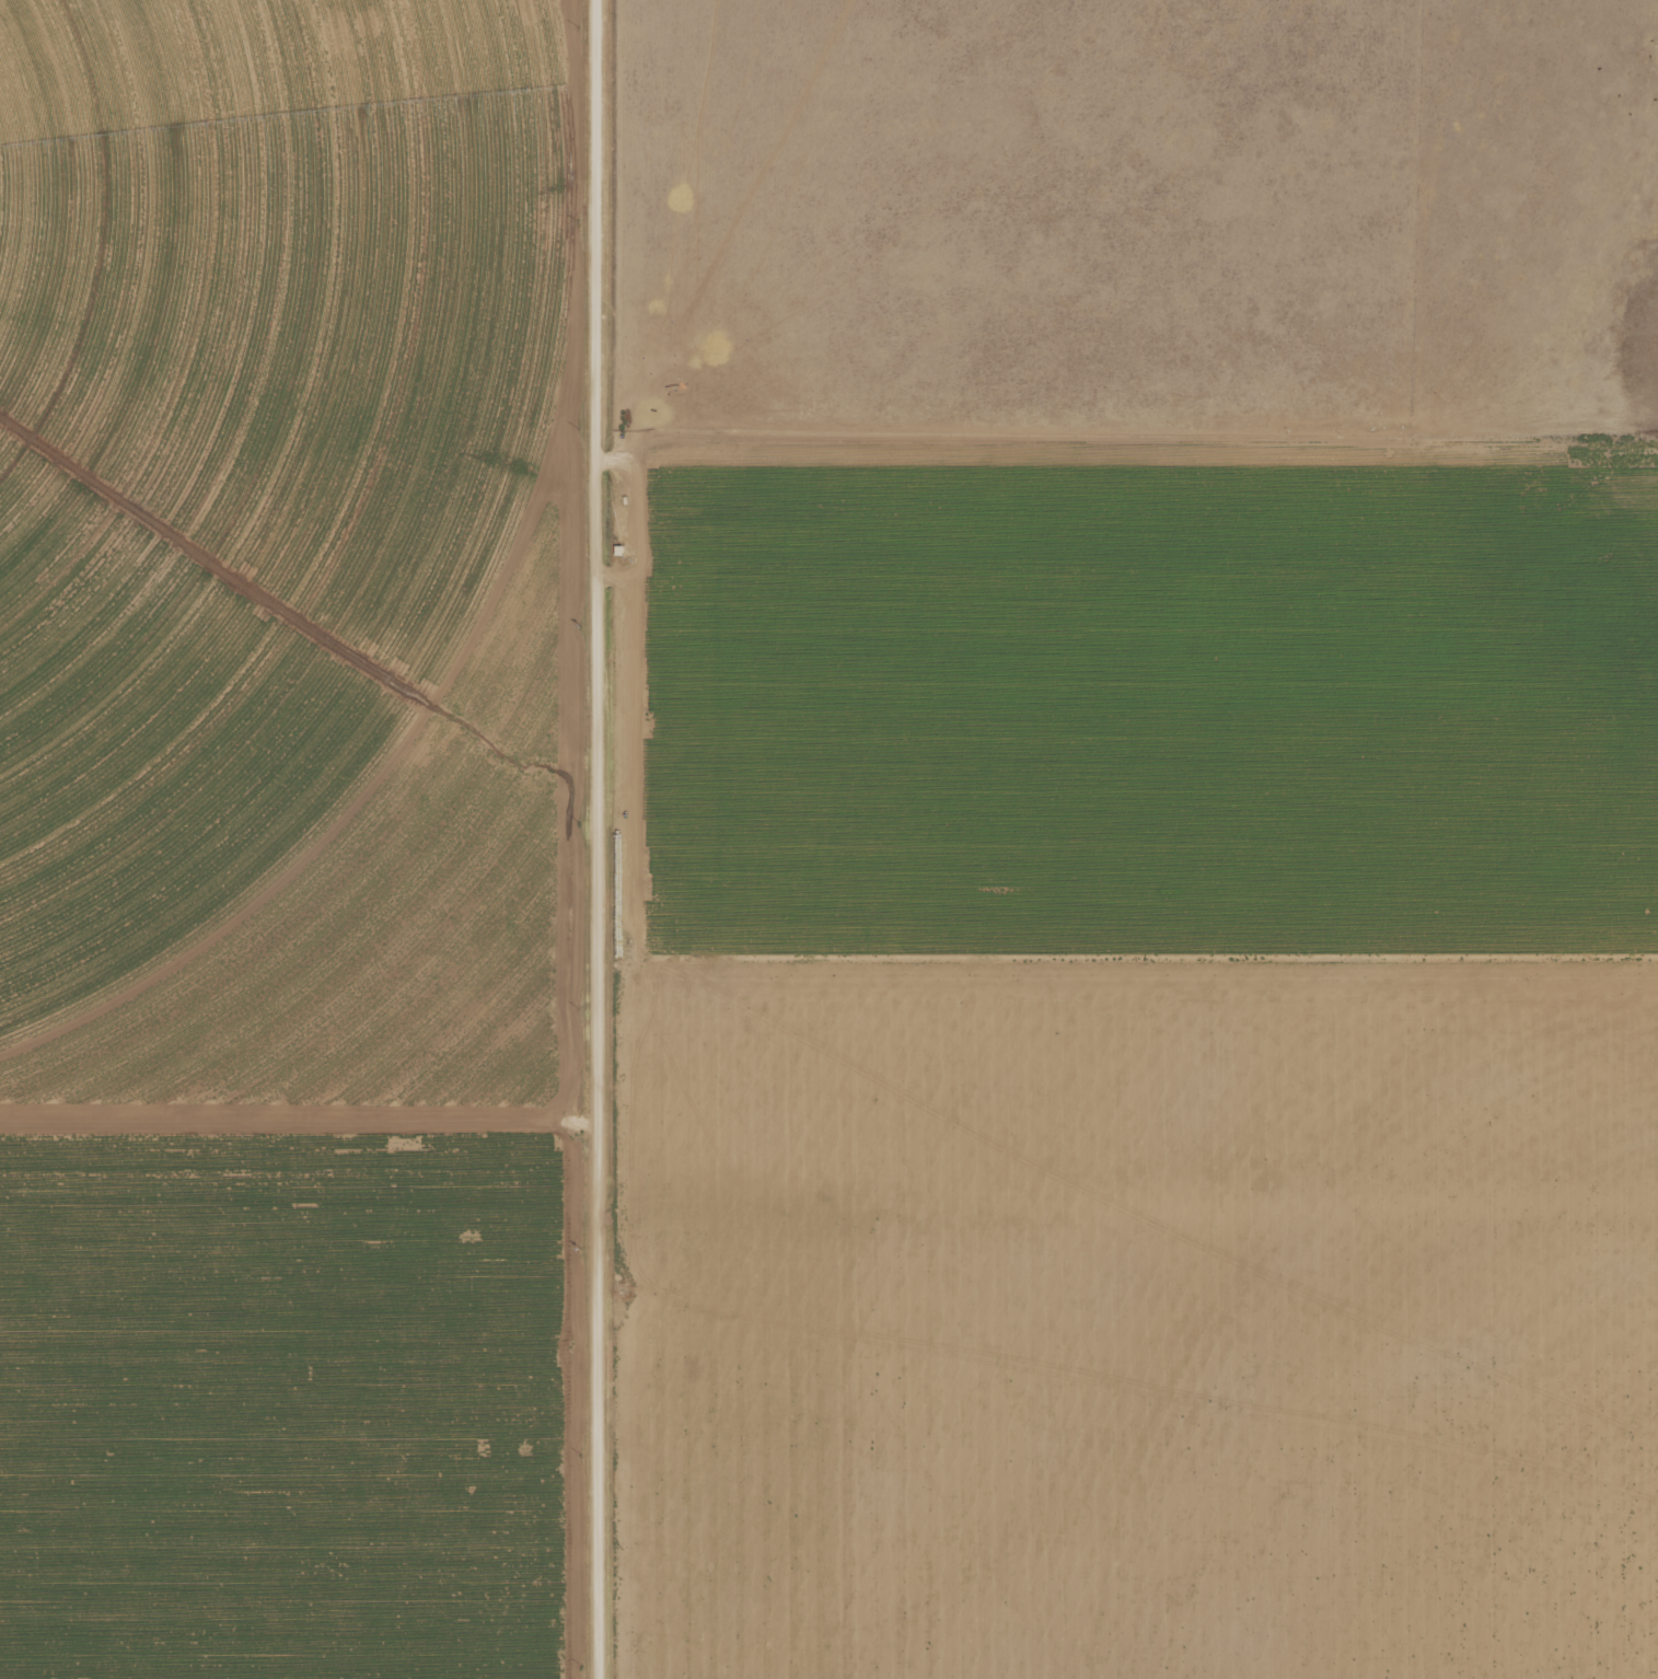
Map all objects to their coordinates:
road: (581, 839)
road: (291, 1059)

